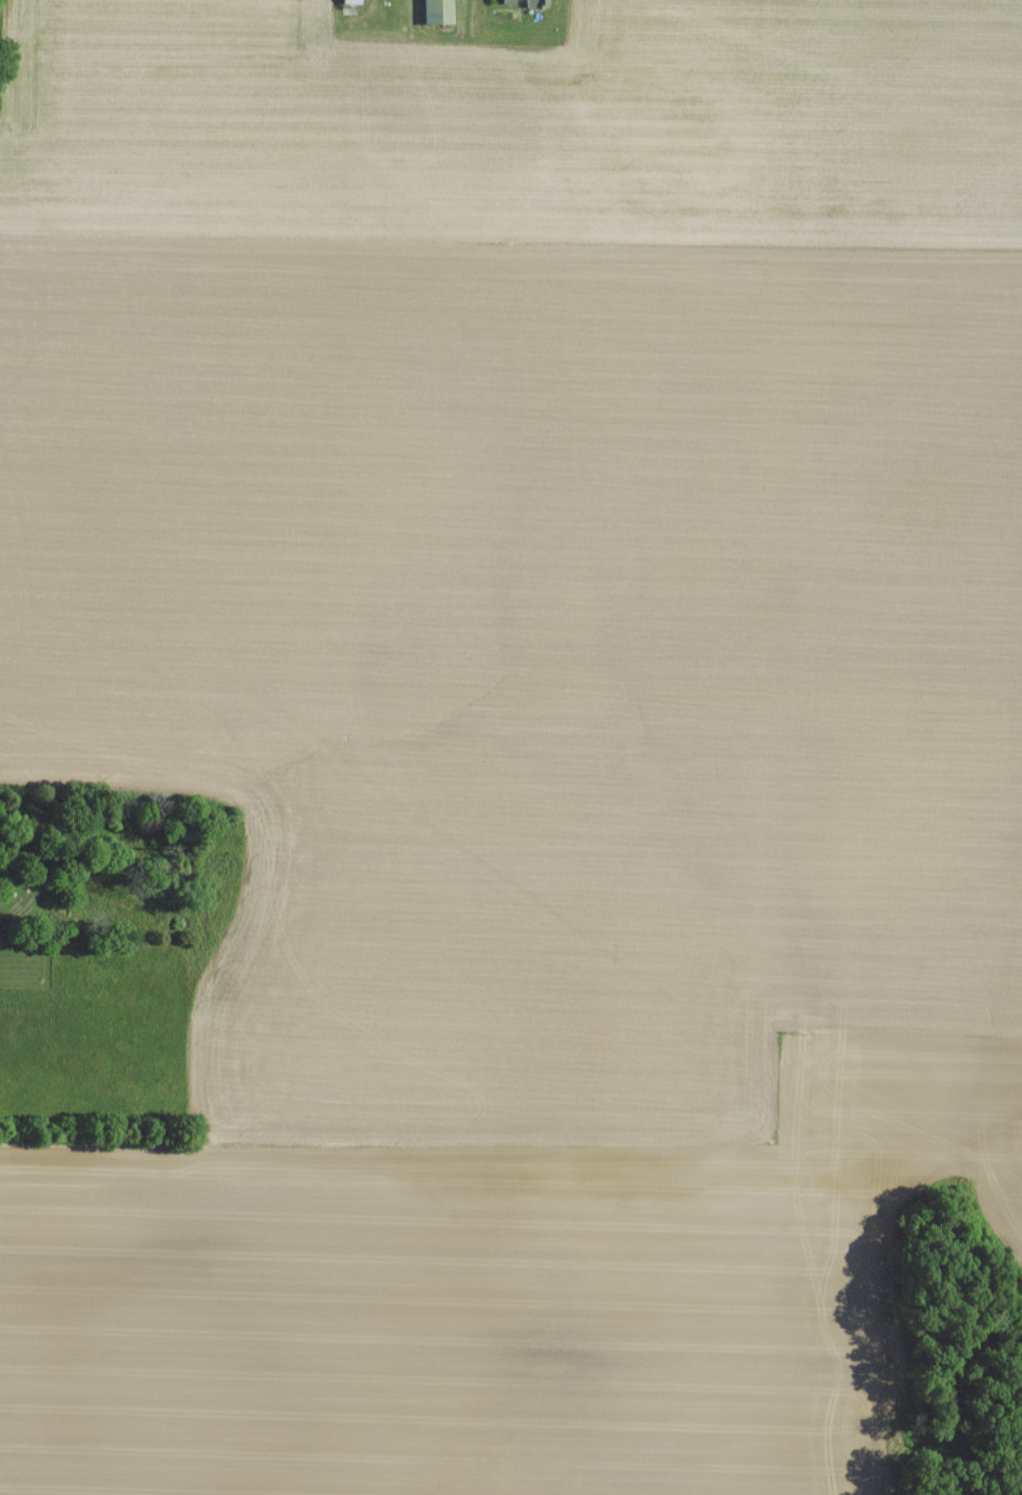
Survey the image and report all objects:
building: (351, 1)
building: (537, 3)
building: (439, 11)

